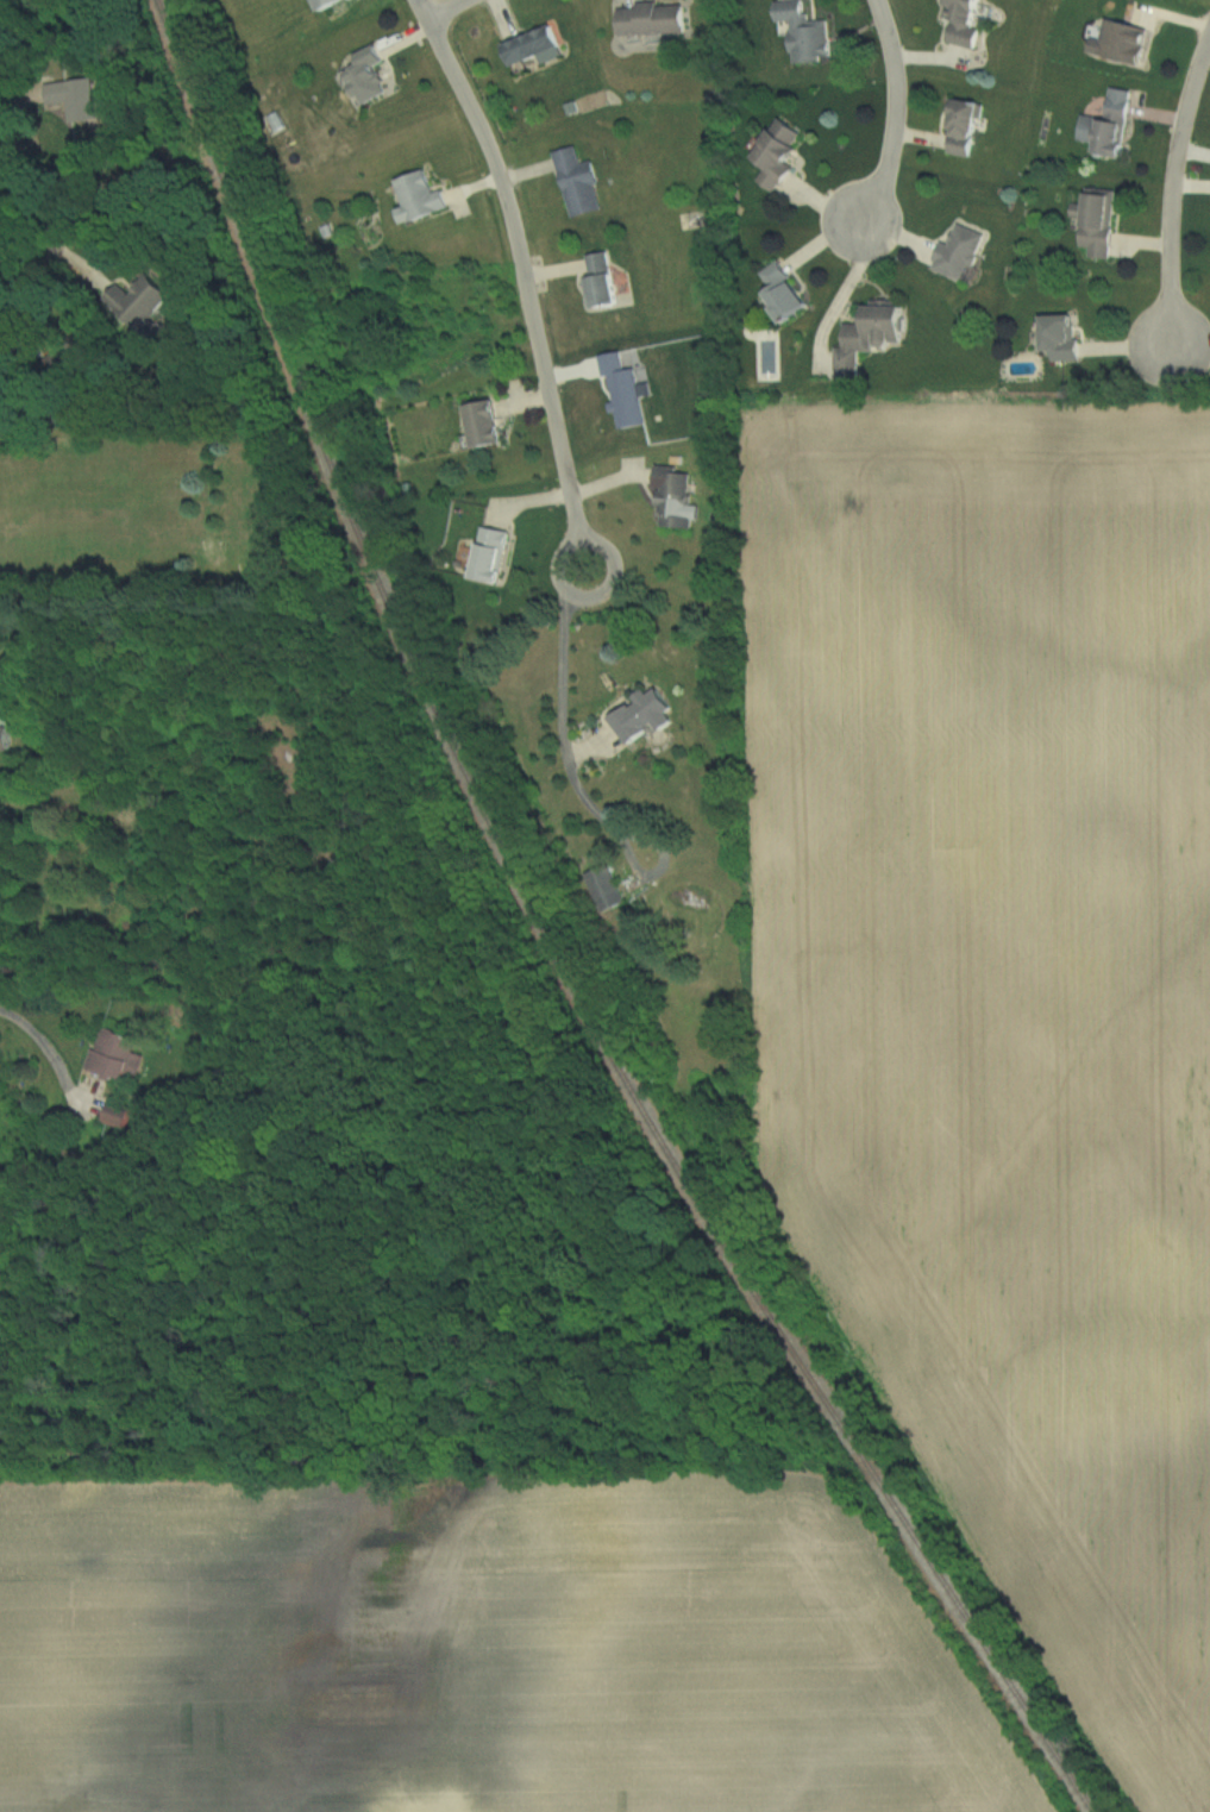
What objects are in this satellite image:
building: (326, 4)
road: (428, 4)
building: (652, 19)
building: (965, 23)
building: (805, 32)
building: (1122, 40)
building: (535, 46)
building: (370, 76)
building: (62, 95)
road: (888, 113)
building: (1115, 125)
building: (965, 126)
building: (778, 152)
road: (35, 176)
building: (578, 181)
road: (1173, 189)
building: (421, 197)
building: (1101, 220)
building: (961, 252)
road: (519, 274)
building: (602, 278)
building: (783, 290)
building: (132, 302)
building: (1061, 336)
building: (872, 337)
building: (485, 424)
building: (675, 497)
building: (491, 556)
road: (557, 702)
building: (646, 716)
building: (5, 735)
building: (606, 888)
railway: (551, 946)
crop: (999, 996)
road: (39, 1054)
building: (118, 1054)
building: (118, 1117)
building: (441, 1810)

